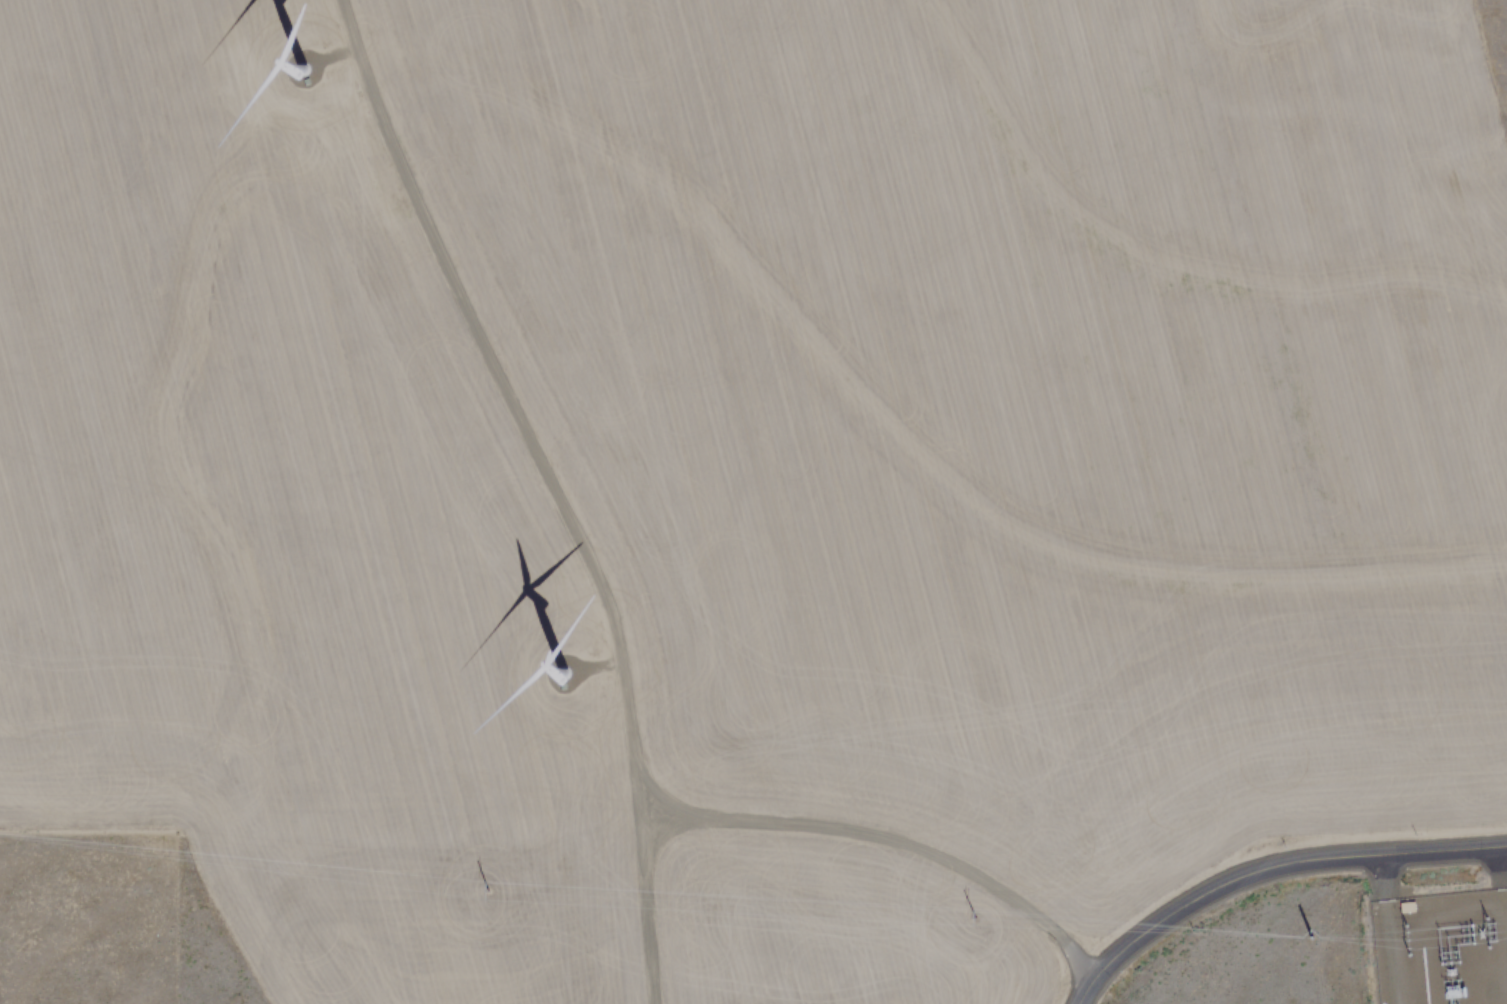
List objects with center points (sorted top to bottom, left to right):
wind turbine: (291, 60)
road: (614, 618)
wind turbine: (553, 664)
road: (1268, 864)
power tower: (485, 883)
power tower: (980, 915)
power tower: (1311, 930)
power substation: (1440, 948)

